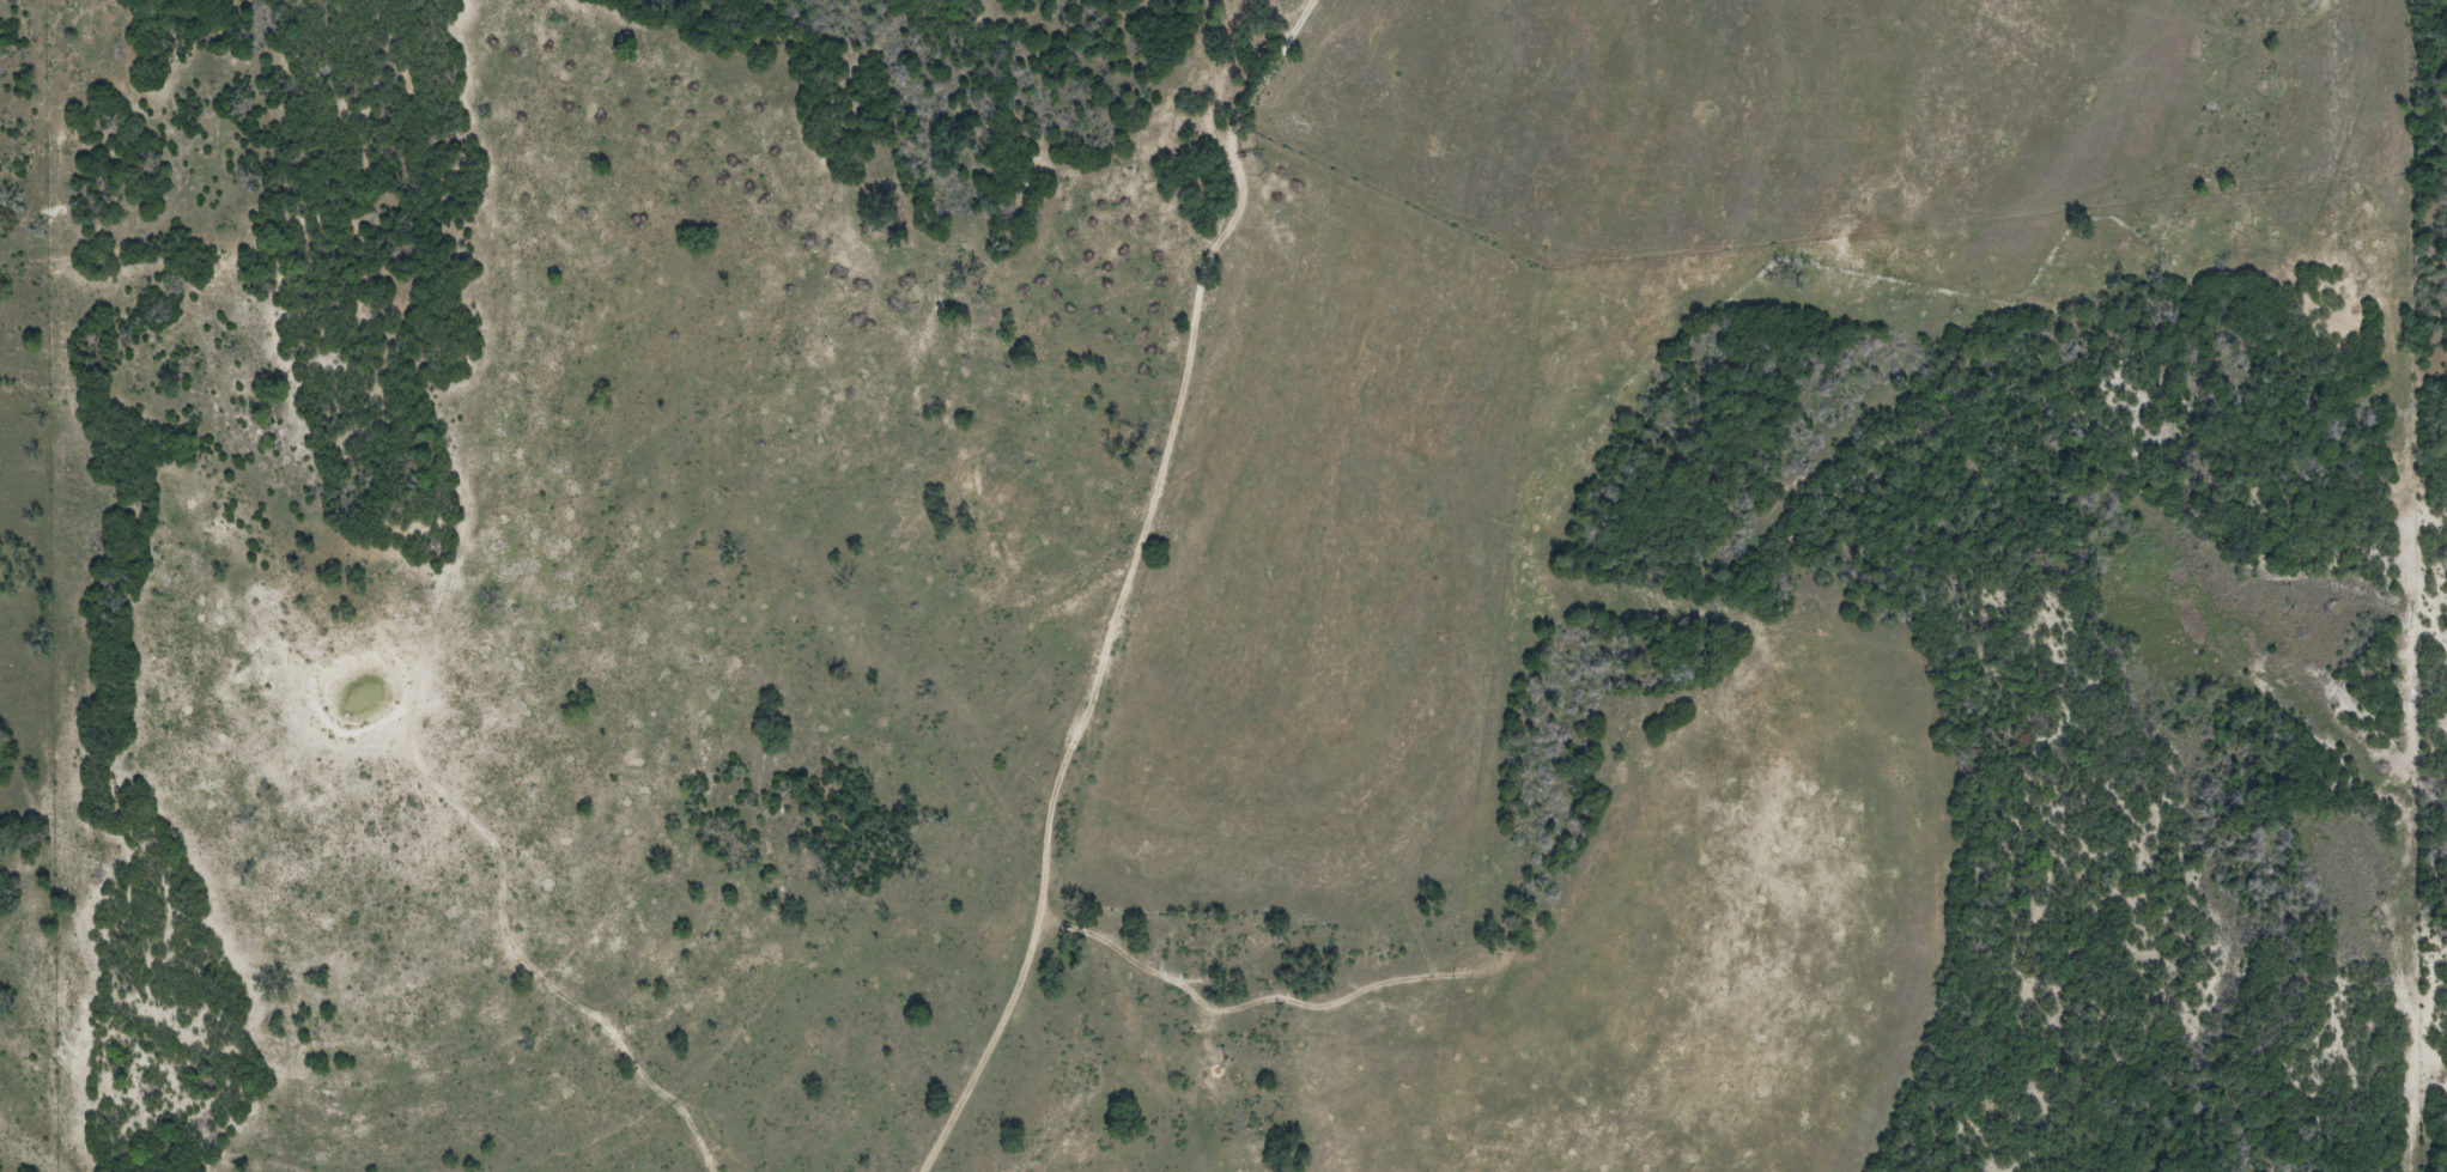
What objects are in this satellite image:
road: (1128, 582)

